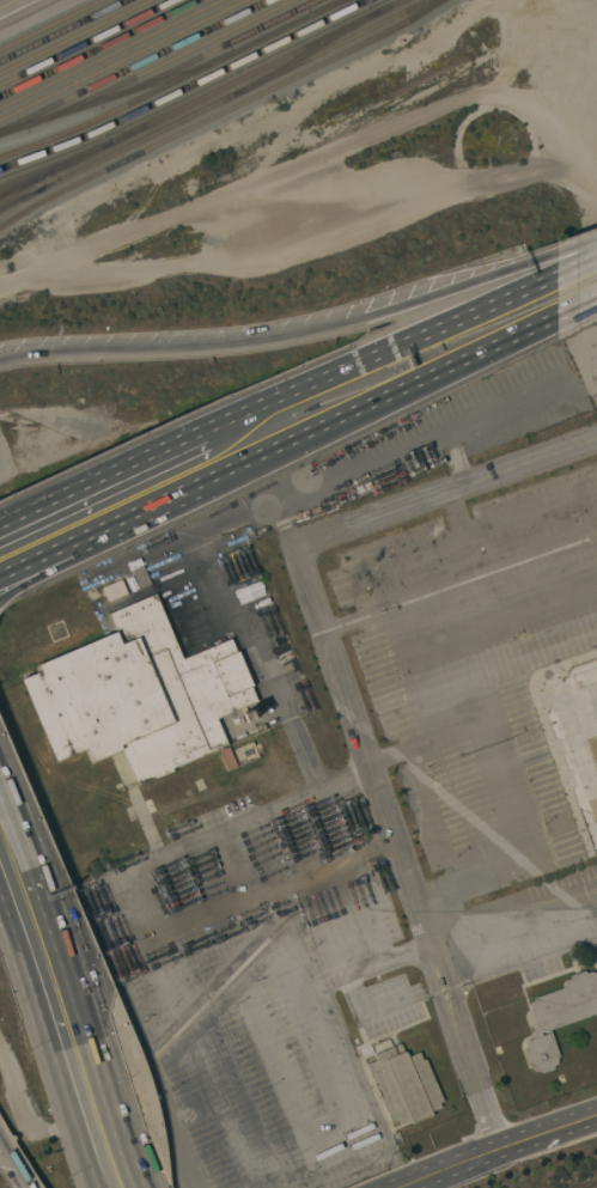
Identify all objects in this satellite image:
road: (8, 4)
railway: (330, 8)
railway: (53, 25)
railway: (63, 31)
railway: (78, 37)
railway: (89, 43)
railway: (99, 48)
railway: (211, 53)
railway: (111, 54)
railway: (305, 55)
railway: (124, 60)
railway: (136, 66)
railway: (163, 66)
railway: (261, 71)
railway: (175, 83)
railway: (187, 89)
railway: (117, 97)
railway: (214, 105)
railway: (223, 114)
railway: (57, 165)
railway: (57, 170)
road: (580, 263)
road: (578, 307)
road: (285, 336)
road: (382, 353)
road: (324, 427)
road: (99, 479)
road: (445, 498)
road: (278, 525)
road: (459, 537)
road: (45, 558)
road: (45, 571)
building: (140, 577)
road: (215, 584)
road: (451, 585)
building: (114, 591)
road: (413, 674)
building: (139, 695)
building: (248, 715)
building: (590, 738)
building: (226, 759)
road: (340, 784)
road: (499, 799)
road: (384, 822)
road: (514, 933)
road: (166, 981)
road: (71, 1003)
road: (363, 1013)
building: (558, 1017)
road: (48, 1044)
building: (403, 1085)
road: (486, 1120)
road: (497, 1147)
road: (13, 1164)

